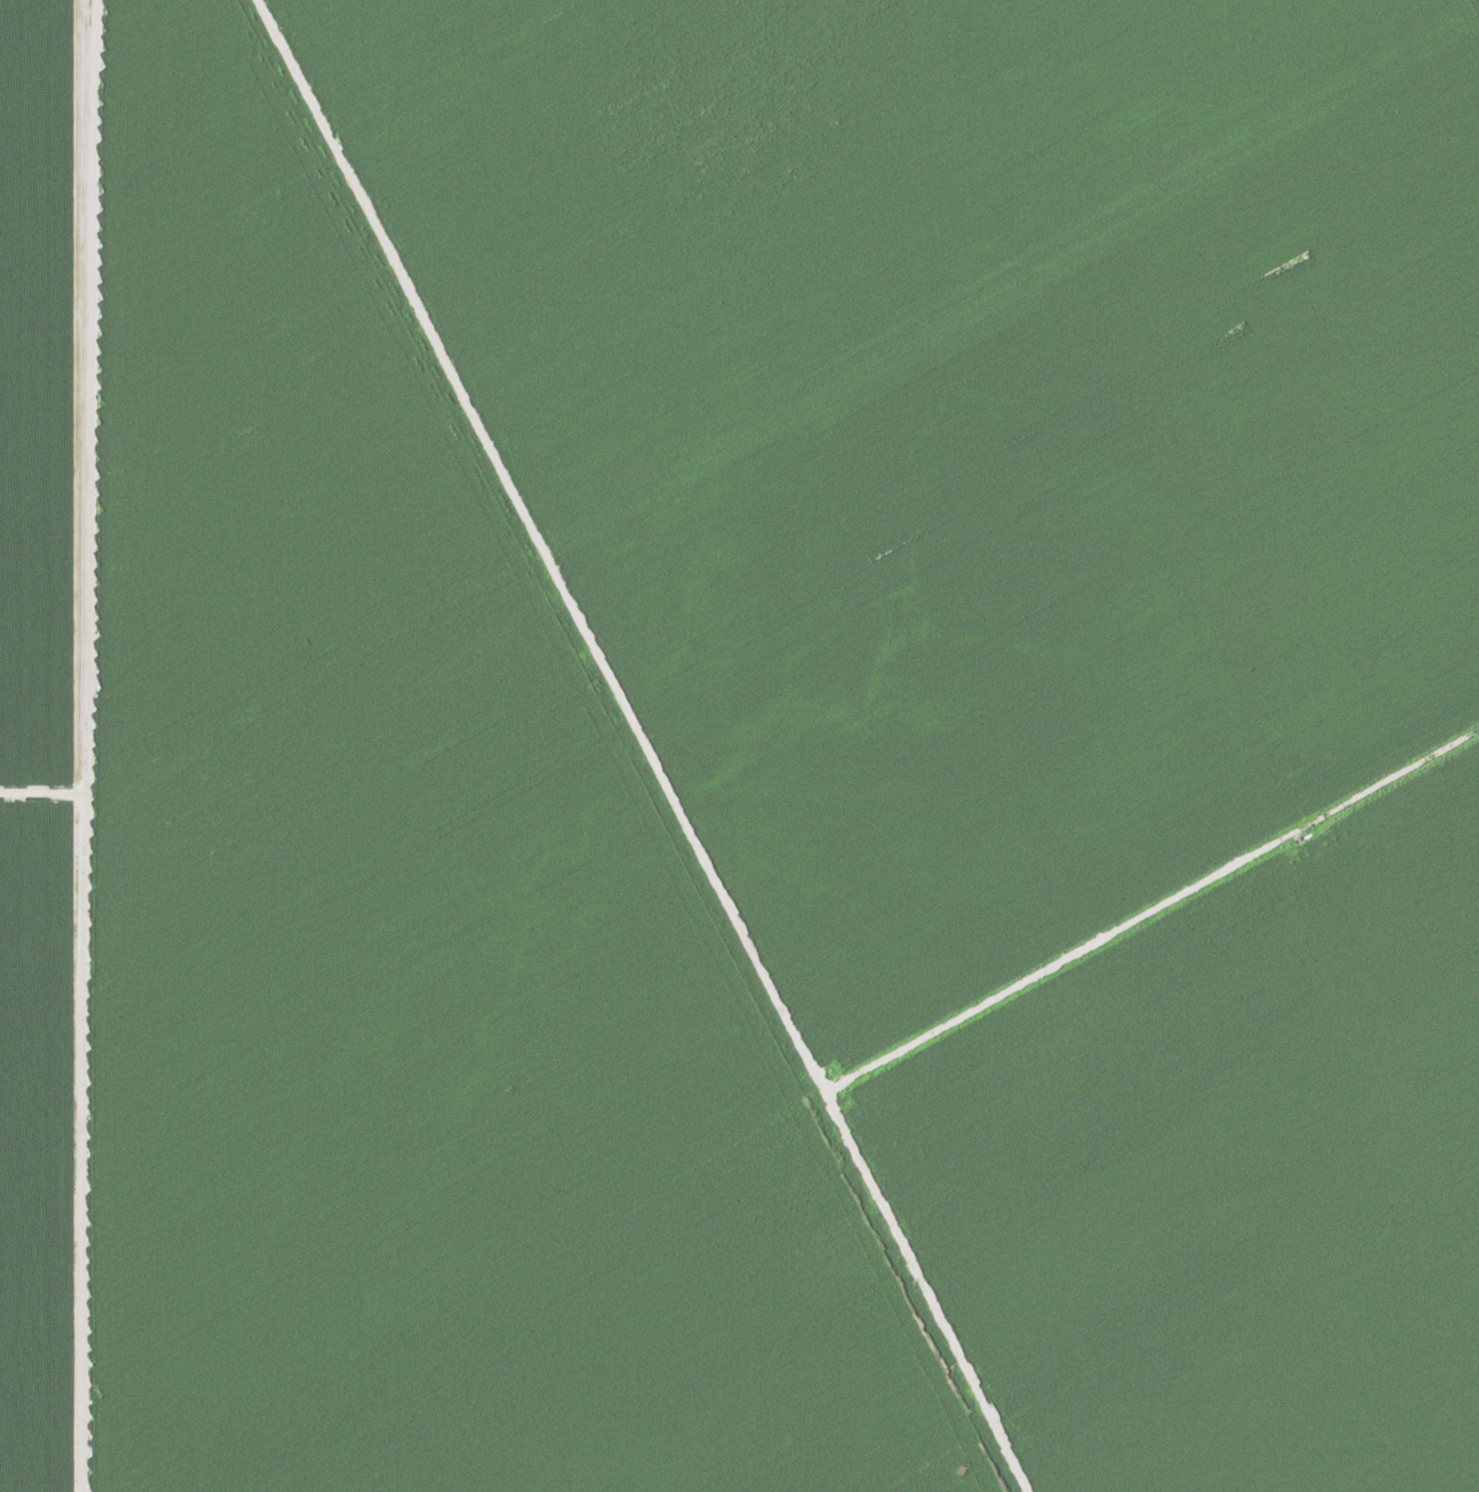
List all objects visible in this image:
road: (1316, 355)
road: (1247, 715)
road: (84, 746)

